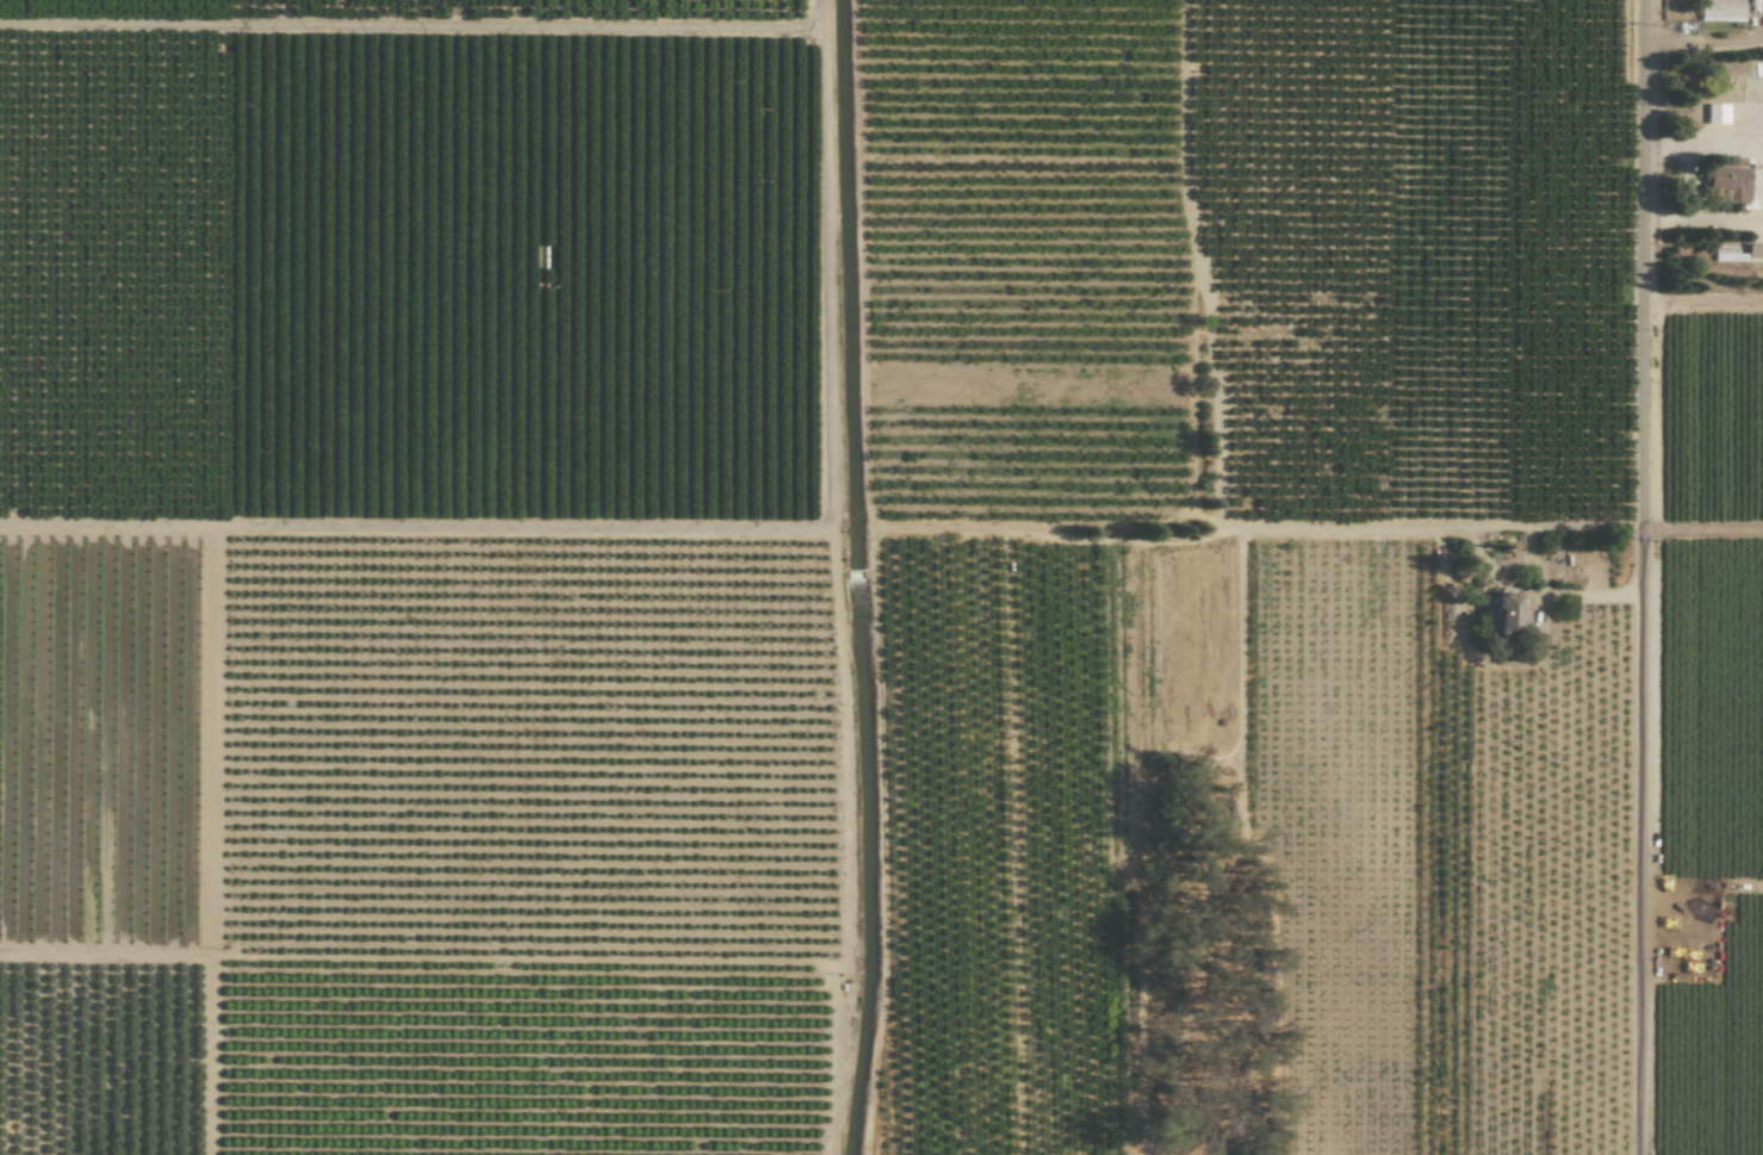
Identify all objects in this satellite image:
building: (1753, 2)
building: (1720, 10)
road: (1705, 45)
building: (1714, 114)
road: (1705, 147)
building: (1727, 186)
road: (1689, 204)
building: (1753, 253)
road: (1703, 302)
road: (1322, 532)
road: (1644, 577)

